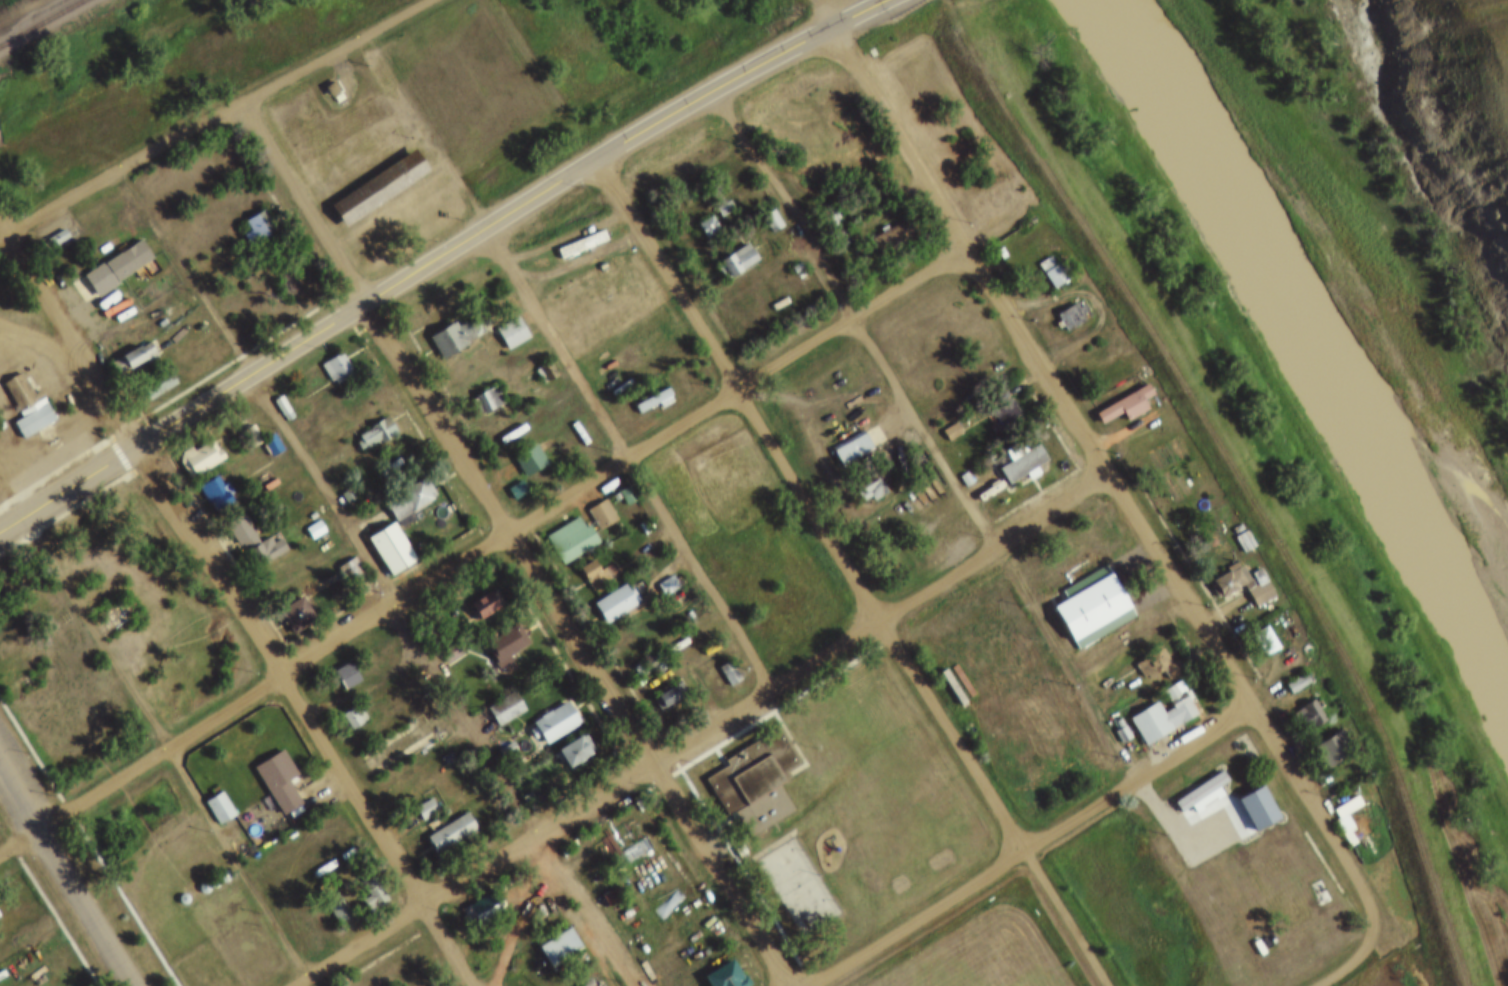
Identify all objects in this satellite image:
railway: (43, 23)
building: (327, 75)
road: (214, 117)
building: (372, 174)
building: (380, 190)
building: (717, 195)
building: (764, 207)
building: (726, 209)
building: (824, 213)
building: (251, 214)
building: (699, 214)
building: (773, 221)
building: (888, 222)
building: (52, 224)
building: (260, 227)
building: (709, 228)
building: (57, 239)
building: (892, 239)
building: (994, 239)
building: (728, 247)
building: (855, 248)
building: (111, 254)
building: (789, 255)
road: (434, 257)
building: (1045, 258)
building: (126, 263)
building: (738, 263)
building: (284, 270)
building: (1055, 274)
building: (1065, 302)
building: (1075, 317)
building: (506, 320)
building: (445, 325)
river: (1323, 326)
building: (513, 333)
building: (452, 338)
building: (128, 344)
building: (140, 356)
building: (333, 356)
road: (48, 361)
building: (150, 372)
building: (158, 385)
building: (479, 387)
building: (649, 387)
building: (23, 391)
building: (1118, 393)
building: (278, 395)
building: (492, 398)
building: (654, 400)
building: (1127, 406)
building: (285, 410)
building: (1007, 414)
building: (944, 417)
building: (370, 421)
building: (246, 422)
building: (1, 423)
building: (267, 431)
road: (926, 433)
building: (376, 434)
building: (253, 436)
building: (514, 438)
building: (852, 442)
building: (194, 445)
building: (524, 446)
building: (1013, 449)
road: (1092, 453)
building: (207, 454)
road: (626, 459)
building: (530, 460)
building: (1023, 462)
building: (959, 466)
road: (1238, 474)
building: (512, 477)
building: (211, 479)
building: (622, 482)
building: (403, 486)
building: (611, 489)
building: (218, 496)
building: (411, 499)
building: (597, 501)
building: (603, 514)
building: (309, 516)
building: (565, 525)
building: (1204, 527)
building: (249, 528)
building: (1237, 528)
building: (384, 535)
building: (572, 539)
building: (1246, 541)
road: (515, 544)
road: (481, 548)
building: (346, 559)
building: (587, 562)
building: (1251, 564)
building: (1217, 570)
building: (353, 572)
building: (661, 572)
road: (849, 572)
building: (595, 574)
road: (375, 576)
building: (1247, 585)
building: (668, 586)
building: (479, 590)
building: (609, 590)
building: (1085, 593)
road: (236, 601)
building: (617, 602)
building: (113, 603)
building: (293, 604)
building: (487, 604)
building: (428, 627)
building: (1256, 627)
building: (501, 631)
building: (445, 640)
building: (1266, 642)
building: (653, 646)
building: (506, 647)
building: (1151, 653)
building: (451, 654)
building: (633, 657)
building: (724, 659)
building: (342, 661)
building: (1160, 668)
building: (1289, 670)
building: (662, 682)
building: (1300, 684)
building: (499, 695)
building: (672, 695)
building: (1156, 700)
building: (1301, 701)
building: (349, 702)
building: (549, 709)
building: (507, 710)
building: (1165, 715)
building: (1310, 716)
building: (355, 717)
building: (557, 723)
road: (698, 734)
building: (1325, 734)
building: (568, 737)
building: (502, 738)
building: (1334, 750)
building: (508, 751)
building: (576, 751)
building: (273, 766)
building: (750, 768)
building: (1191, 777)
building: (522, 784)
building: (1202, 792)
building: (214, 794)
building: (1249, 794)
building: (421, 795)
building: (1339, 804)
building: (220, 809)
building: (1259, 809)
building: (427, 810)
building: (445, 819)
building: (1348, 819)
road: (1176, 825)
building: (452, 834)
building: (734, 837)
building: (627, 838)
road: (1030, 842)
building: (219, 863)
silo: (219, 863)
building: (209, 869)
silo: (209, 869)
road: (69, 870)
park: (792, 873)
building: (198, 874)
silo: (198, 874)
building: (787, 874)
building: (369, 878)
building: (178, 886)
silo: (178, 886)
building: (604, 886)
building: (332, 894)
building: (374, 895)
building: (478, 896)
building: (670, 906)
building: (487, 908)
building: (332, 910)
road: (525, 930)
building: (553, 934)
building: (296, 936)
road: (1401, 945)
building: (561, 948)
park: (973, 949)
road: (1359, 953)
building: (718, 968)
building: (333, 980)

